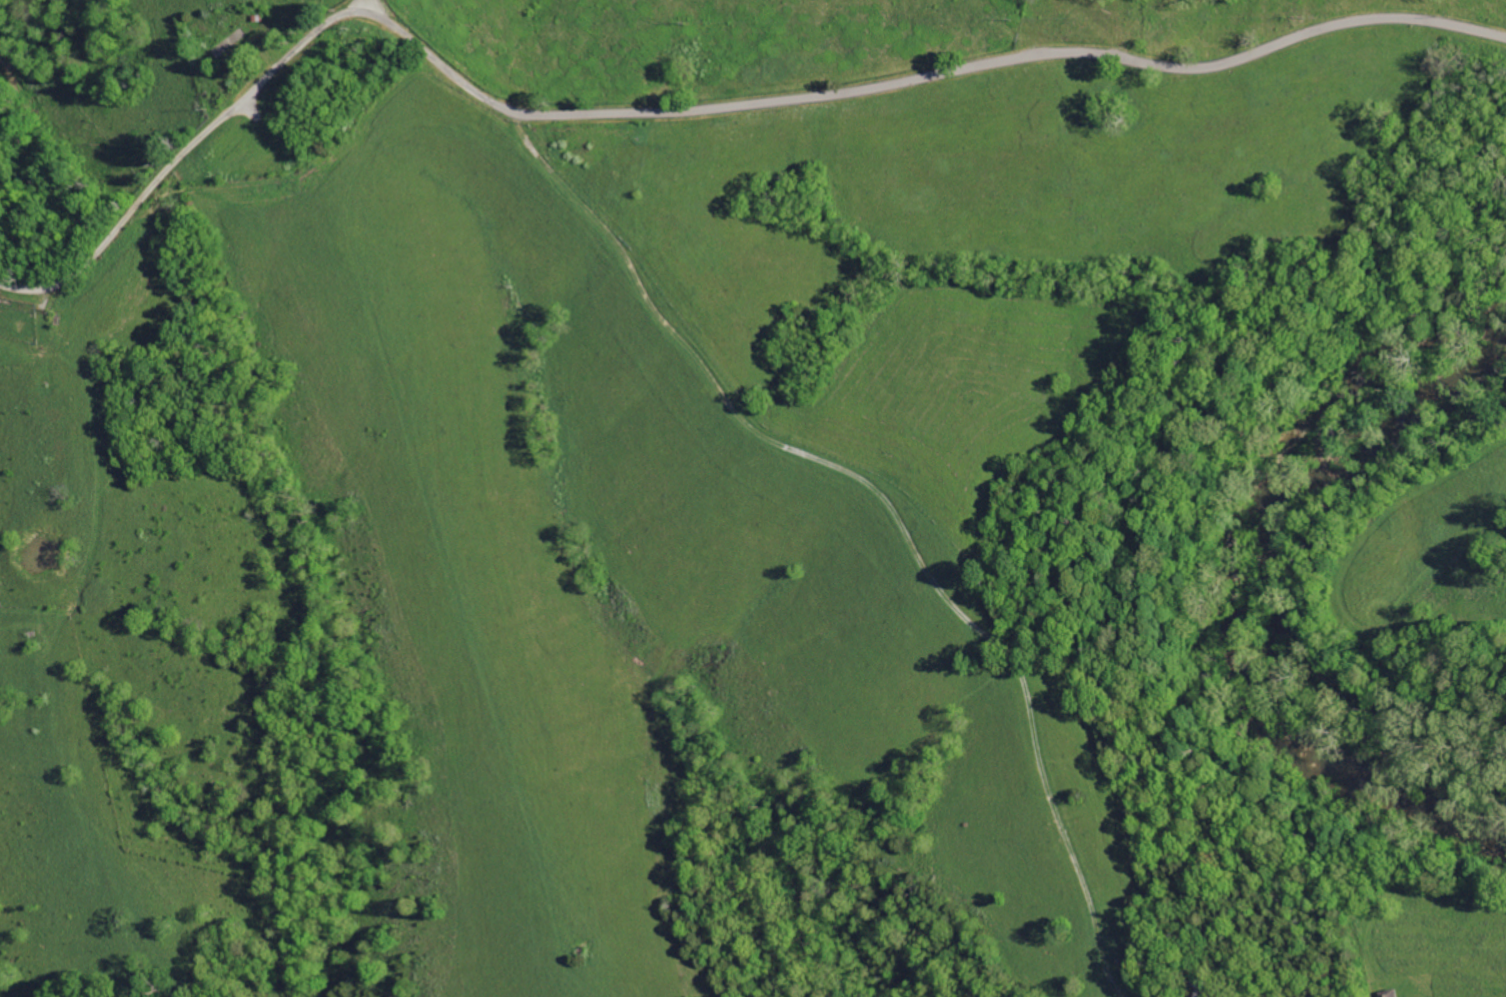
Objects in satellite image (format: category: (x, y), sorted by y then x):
road: (368, 6)
building: (233, 42)
road: (1034, 62)
road: (263, 79)
building: (1391, 994)

